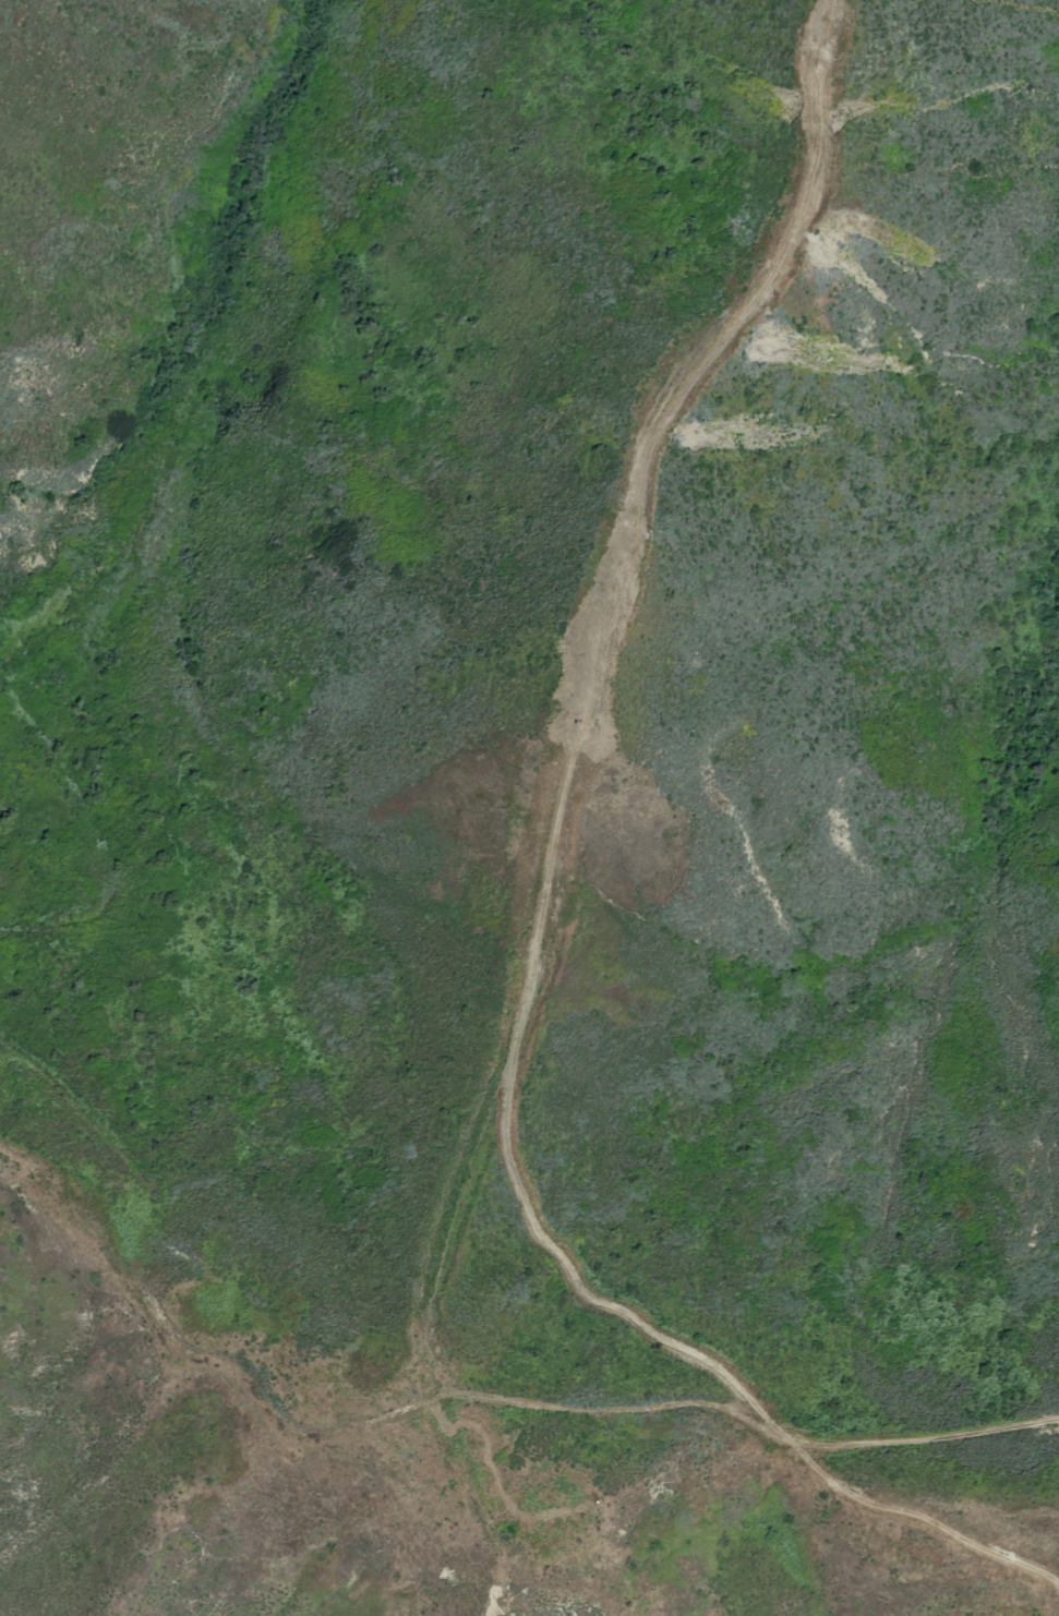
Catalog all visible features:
road: (467, 1409)
road: (929, 1519)

